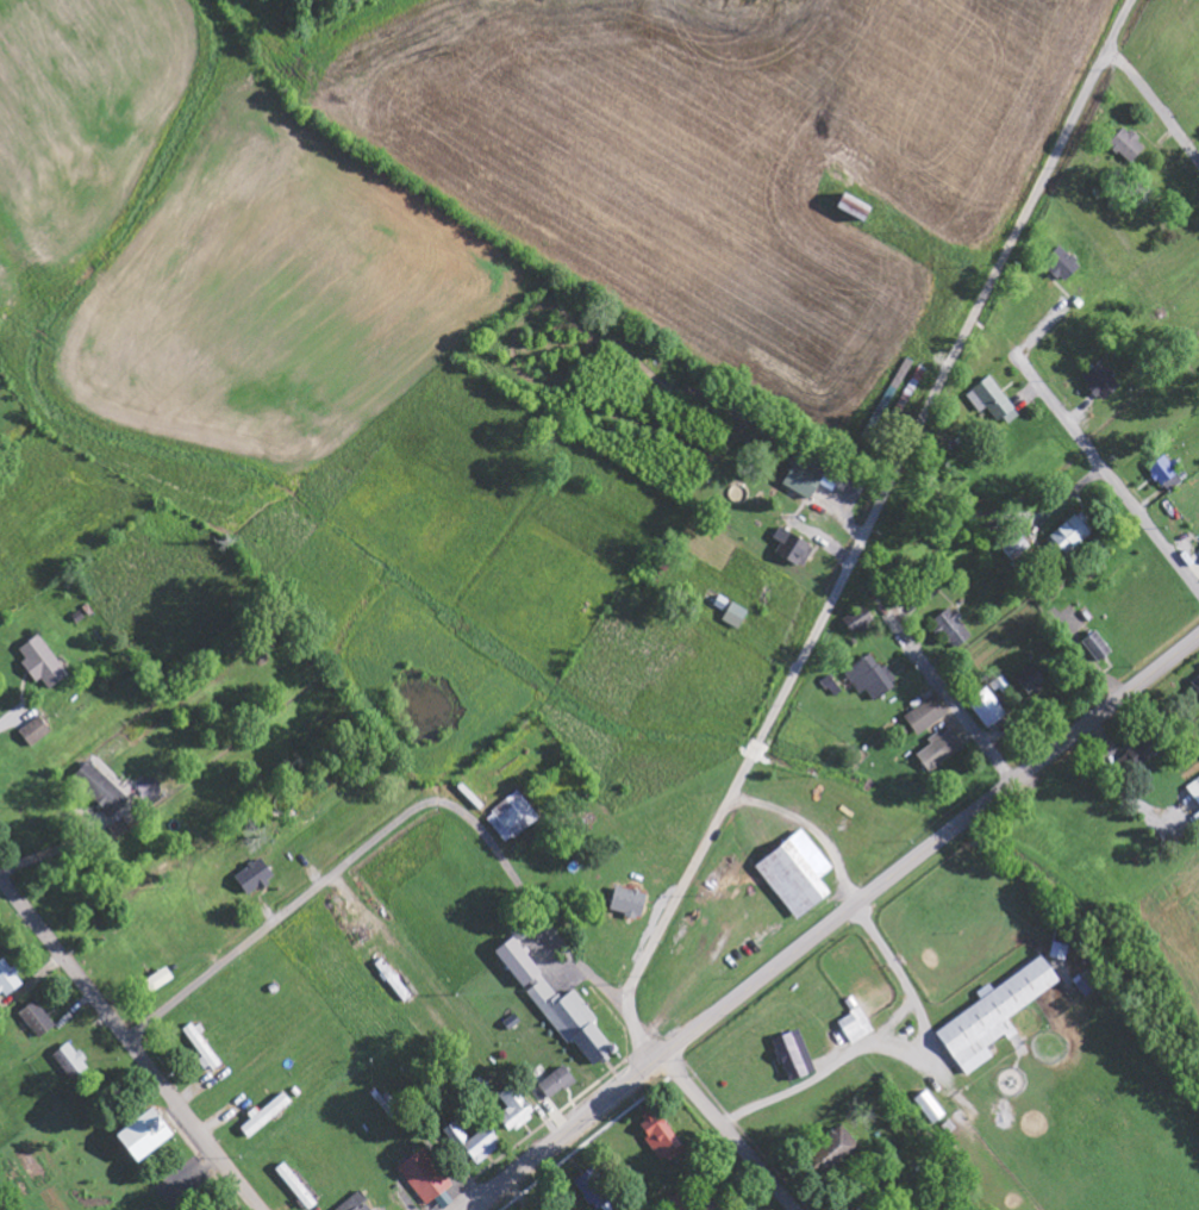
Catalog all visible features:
road: (1155, 106)
building: (1123, 138)
building: (848, 201)
building: (1056, 260)
building: (1095, 376)
building: (1160, 393)
building: (991, 399)
building: (1161, 464)
road: (1107, 472)
building: (798, 475)
road: (880, 511)
building: (1064, 532)
building: (789, 541)
building: (1018, 549)
building: (725, 604)
building: (851, 610)
building: (860, 622)
building: (947, 623)
building: (1093, 638)
building: (42, 662)
building: (868, 668)
building: (1028, 674)
building: (1197, 685)
road: (954, 701)
building: (920, 706)
building: (988, 707)
building: (36, 732)
building: (932, 743)
building: (942, 750)
building: (1194, 784)
building: (102, 792)
road: (416, 813)
building: (513, 818)
building: (793, 868)
building: (255, 878)
building: (623, 899)
road: (832, 922)
building: (761, 933)
building: (718, 938)
building: (1060, 952)
building: (8, 979)
building: (991, 1004)
building: (558, 1006)
building: (853, 1016)
building: (38, 1019)
road: (131, 1041)
building: (204, 1047)
building: (789, 1048)
building: (71, 1061)
building: (557, 1084)
building: (925, 1102)
building: (516, 1110)
building: (267, 1115)
road: (729, 1133)
building: (143, 1136)
building: (662, 1139)
building: (475, 1144)
building: (836, 1149)
building: (425, 1177)
building: (296, 1186)
building: (597, 1192)
building: (683, 1200)
building: (708, 1202)
building: (356, 1204)

